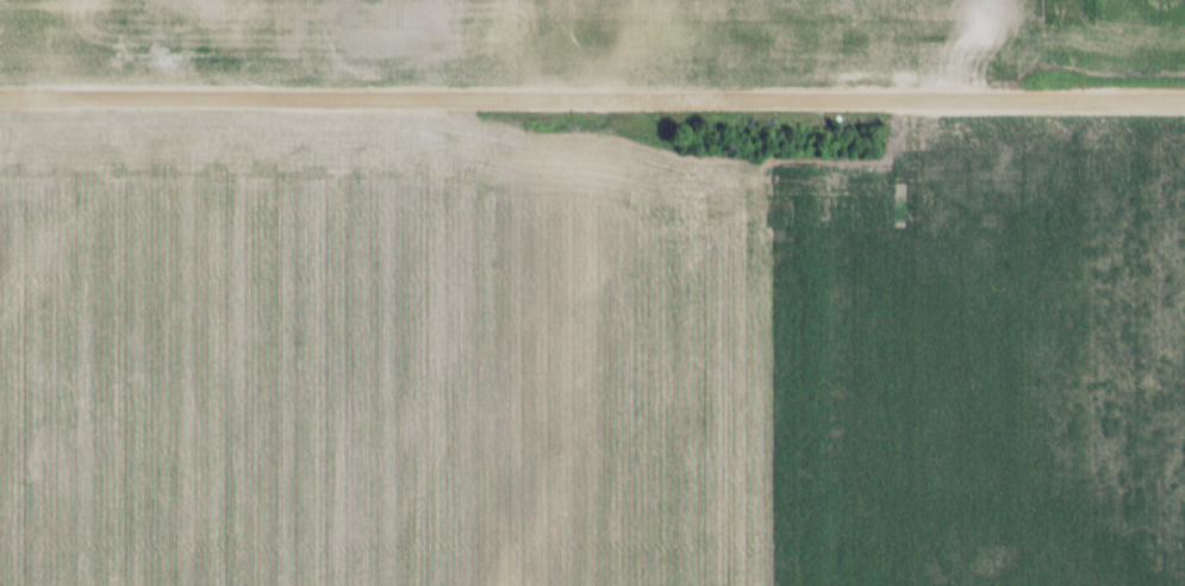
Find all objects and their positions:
road: (592, 99)

